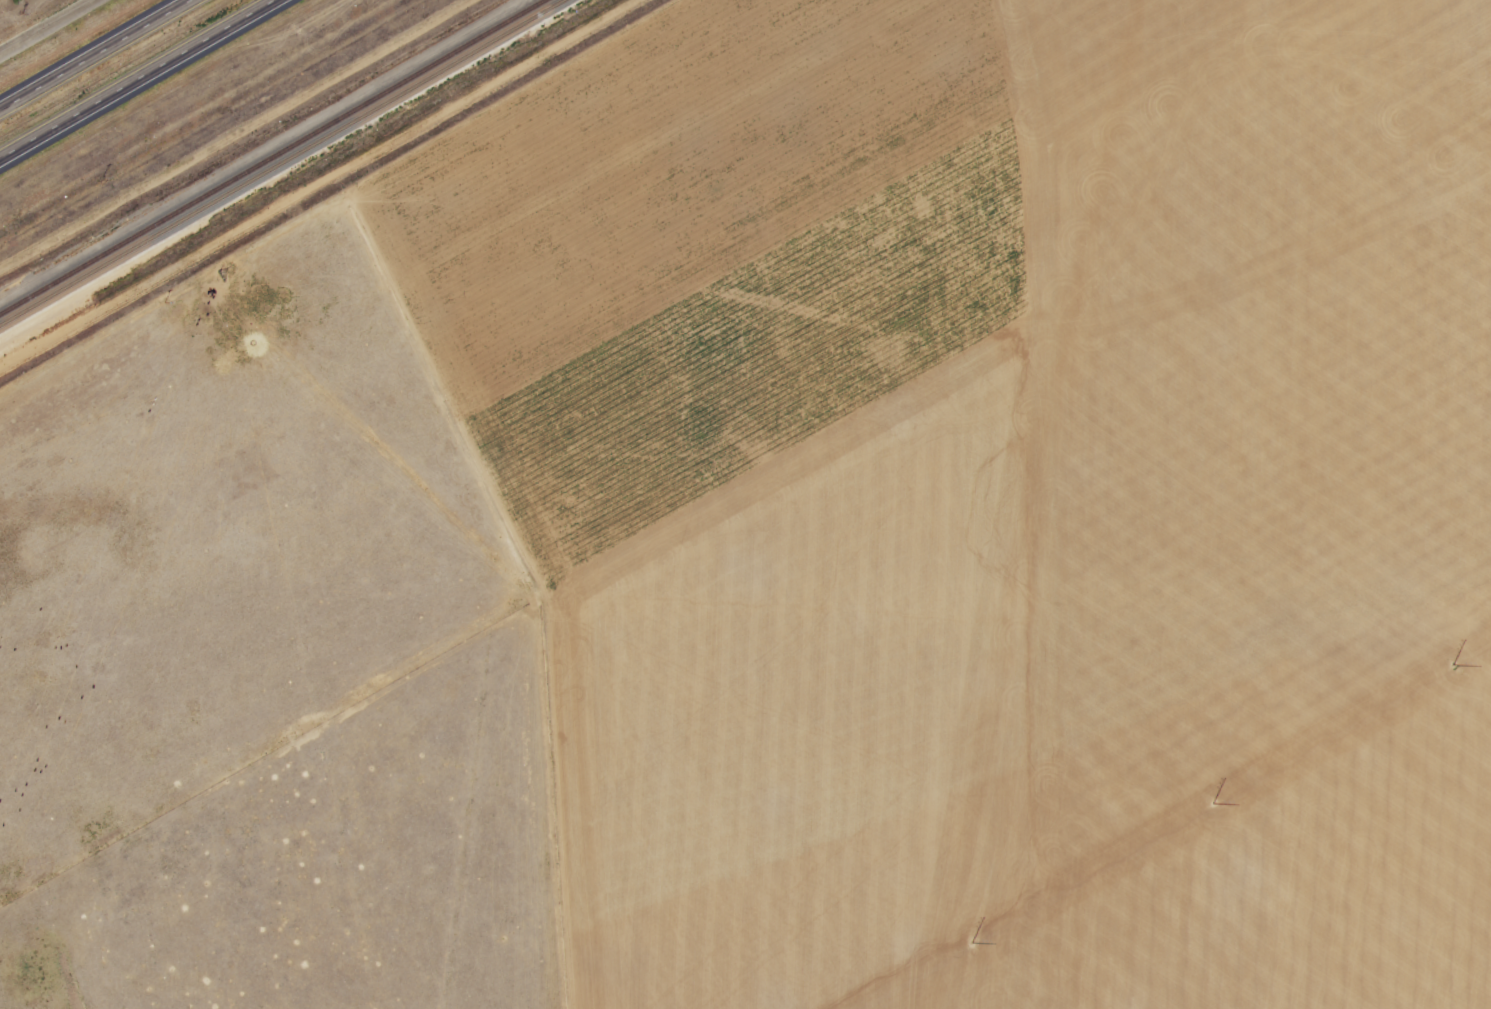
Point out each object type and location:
road: (47, 27)
road: (95, 54)
road: (139, 80)
railway: (272, 157)
railway: (285, 161)
power tower: (1254, 779)
power tower: (984, 933)

